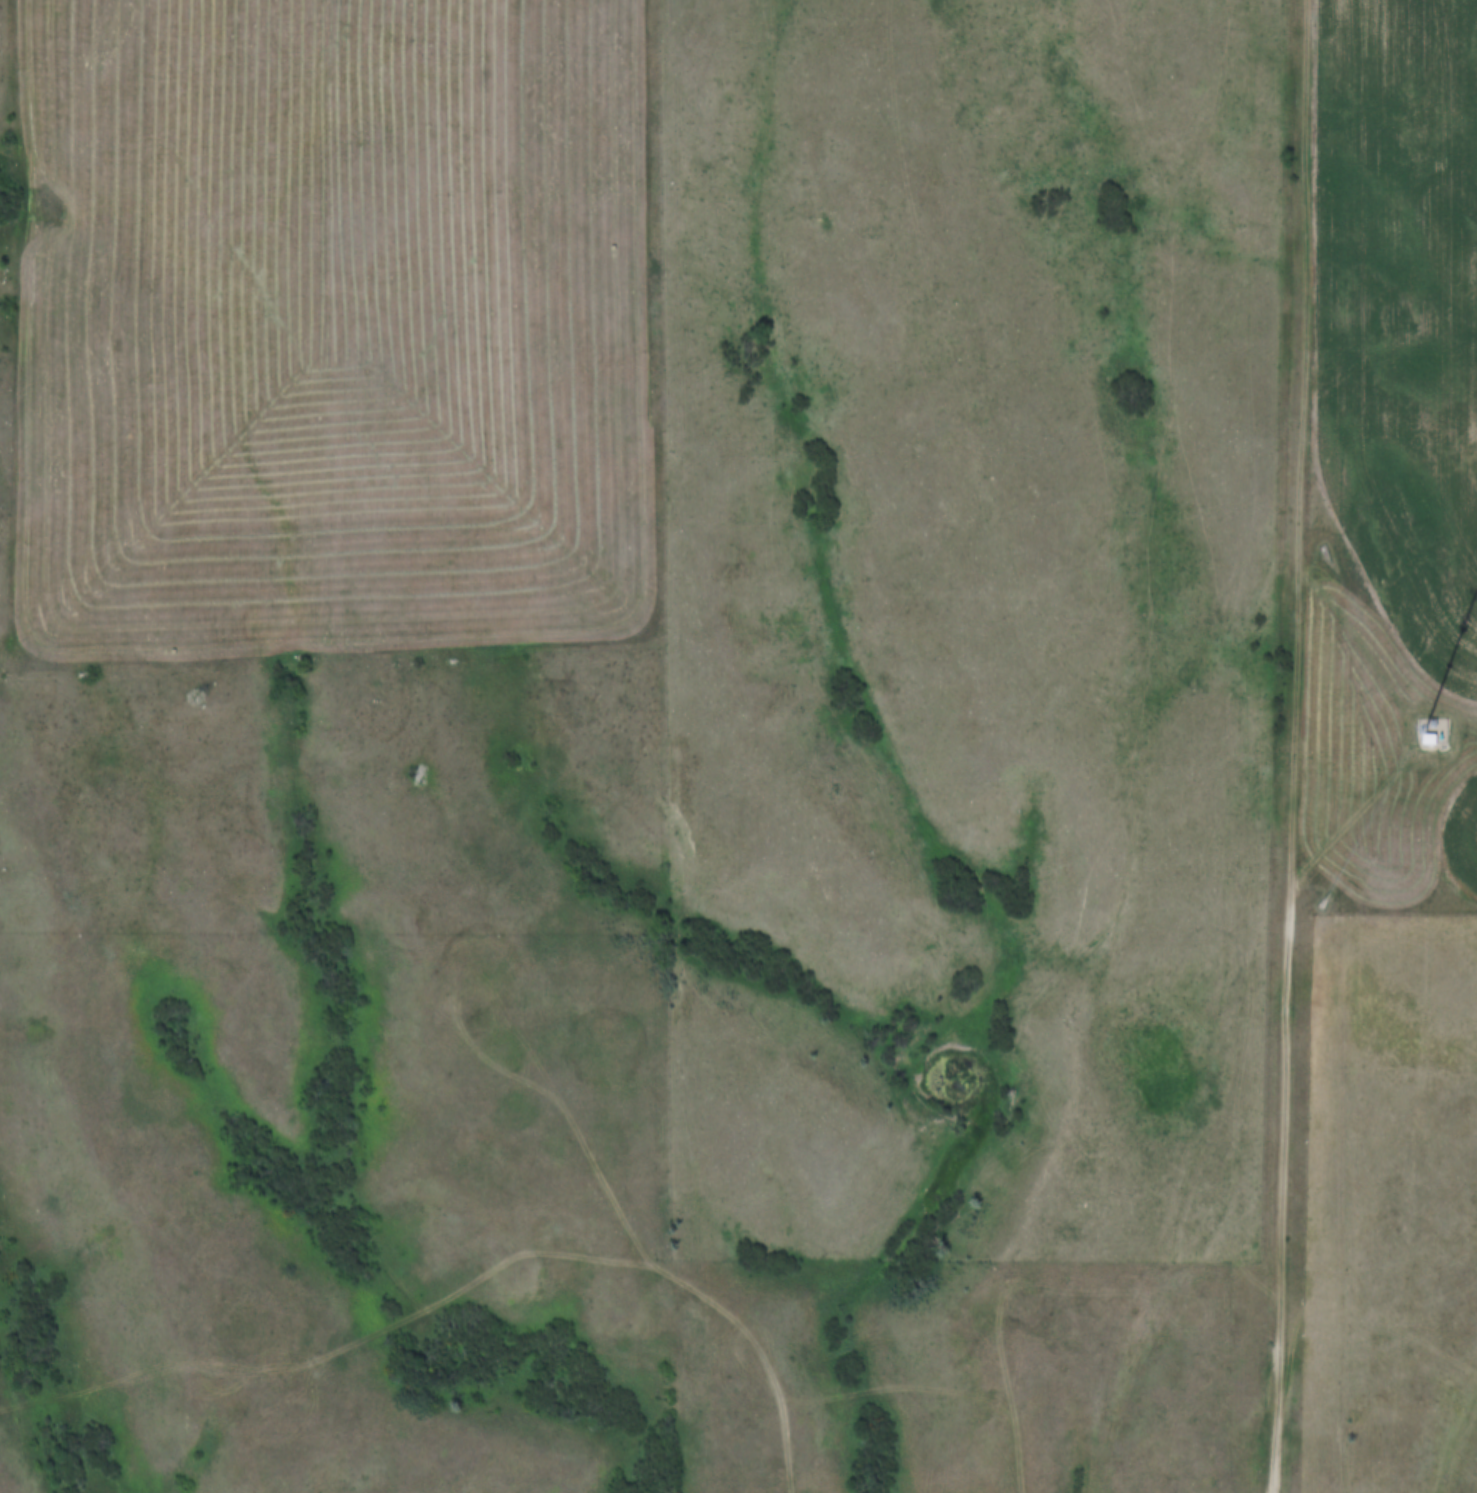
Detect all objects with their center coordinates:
building: (1427, 728)
road: (1296, 746)

